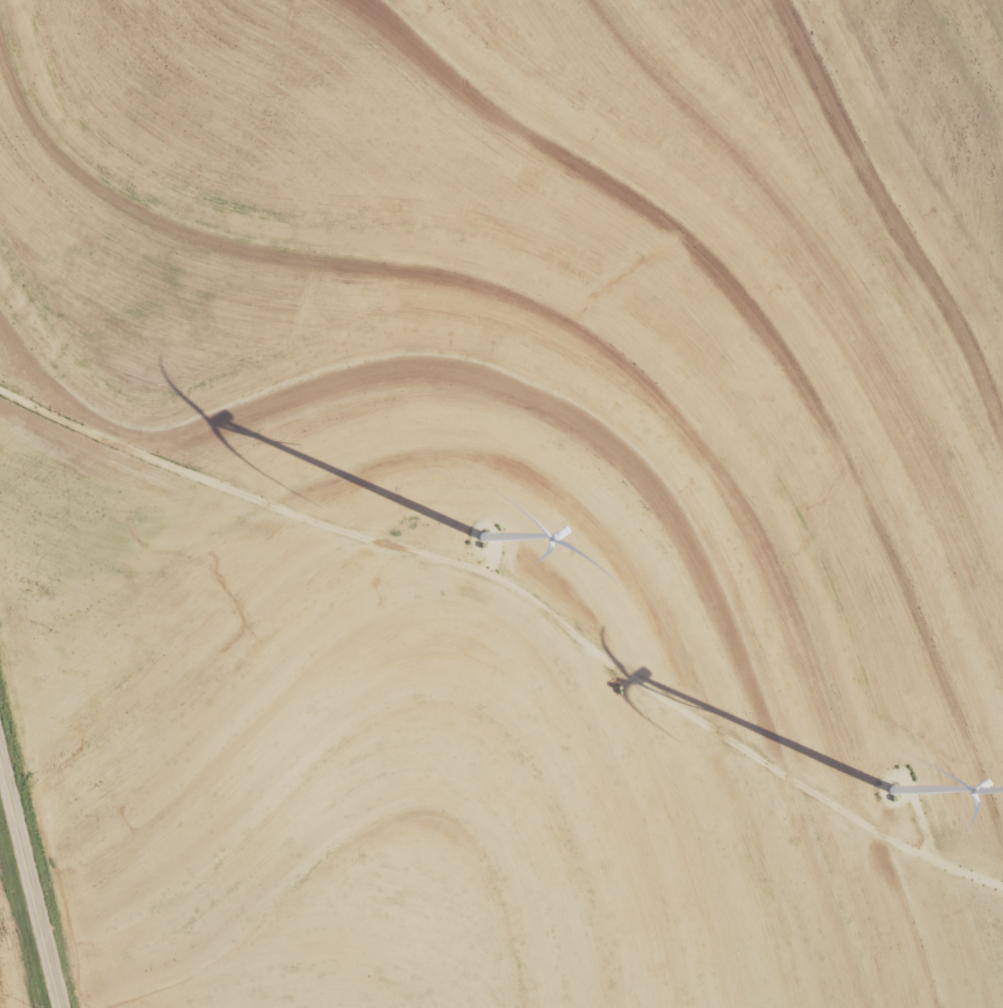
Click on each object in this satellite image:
wind turbine: (476, 548)
wind turbine: (889, 796)
road: (32, 873)

